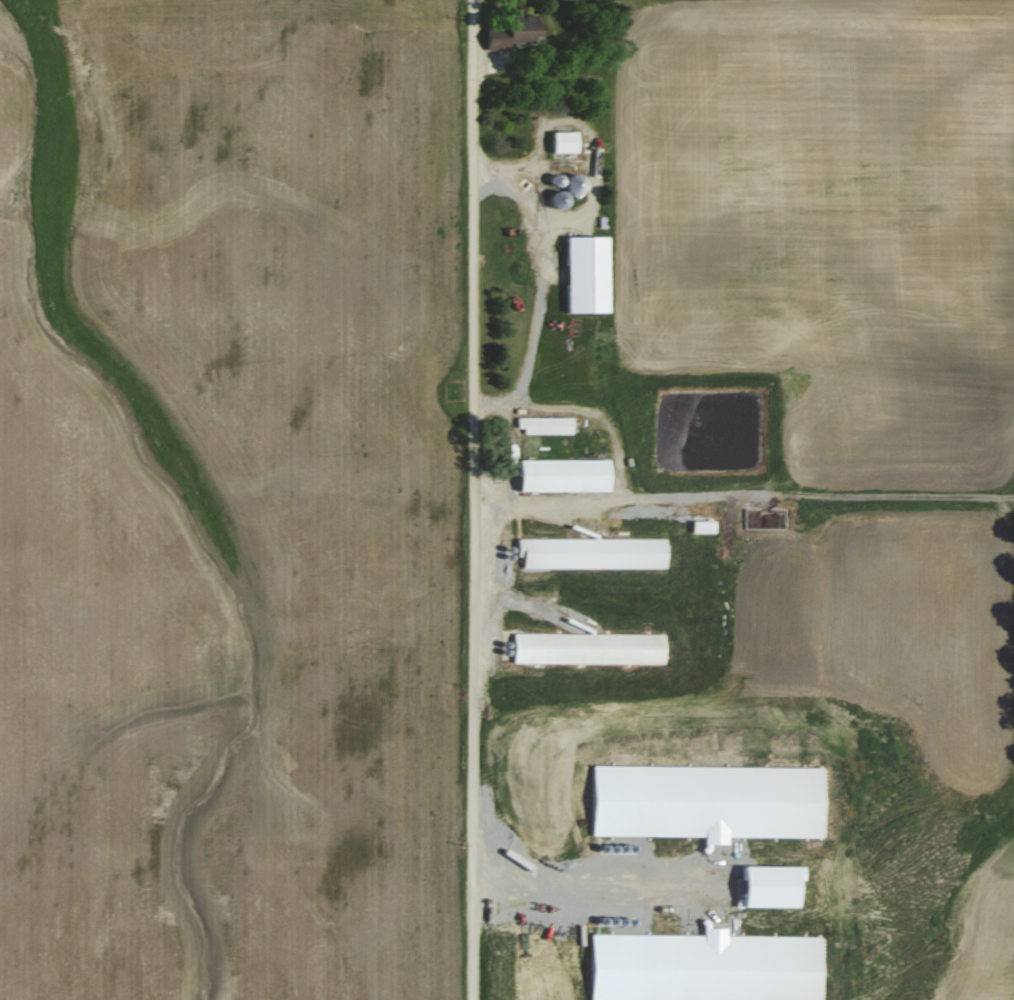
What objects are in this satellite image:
building: (518, 30)
building: (567, 140)
building: (590, 273)
building: (547, 424)
road: (618, 456)
building: (567, 473)
road: (475, 499)
building: (595, 551)
building: (592, 646)

